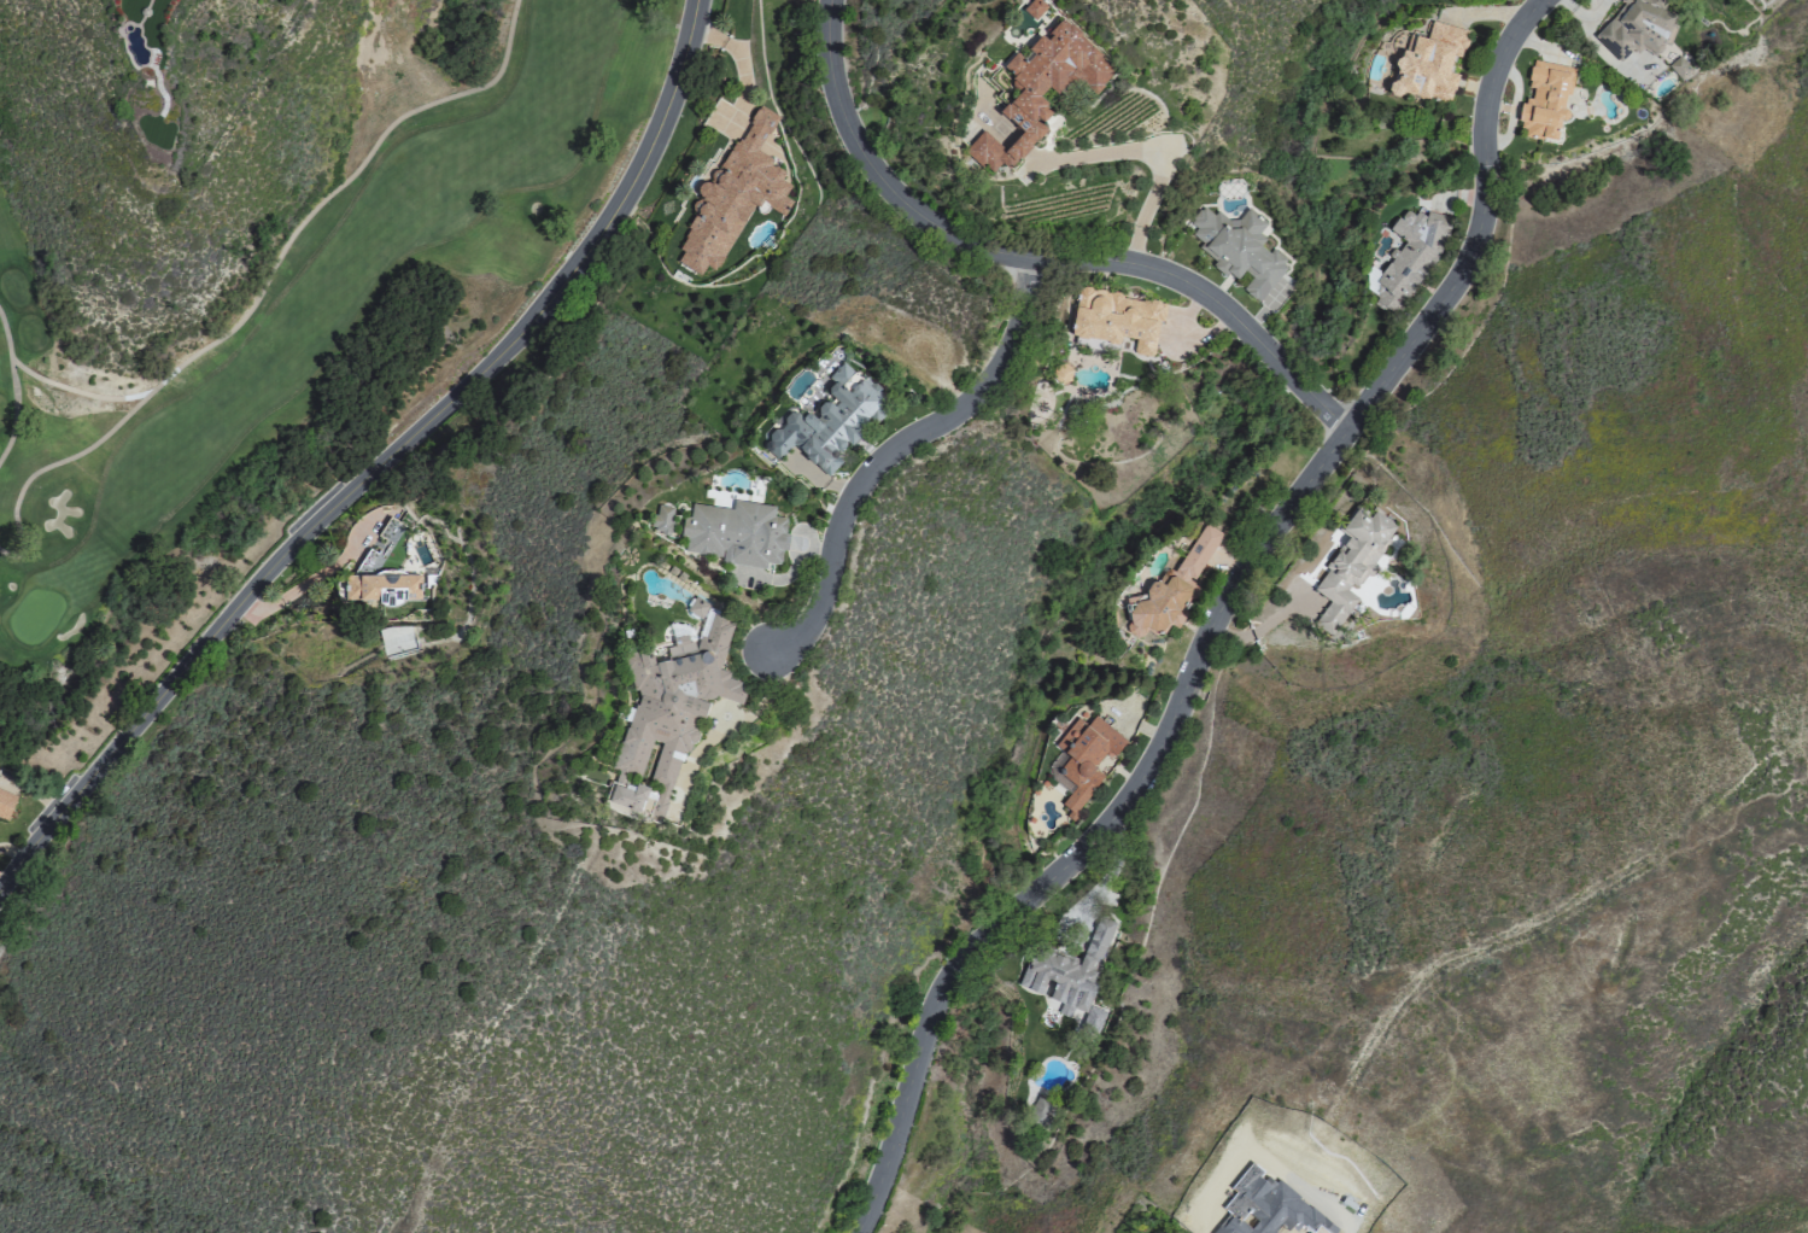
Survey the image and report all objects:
building: (1034, 8)
building: (1636, 27)
building: (1427, 62)
building: (1679, 68)
building: (1040, 89)
building: (1544, 99)
road: (1158, 154)
building: (732, 195)
building: (1239, 249)
building: (1408, 257)
road: (1037, 258)
road: (275, 259)
park: (263, 293)
building: (1114, 317)
road: (12, 405)
building: (829, 420)
road: (897, 454)
road: (51, 462)
road: (381, 463)
building: (662, 520)
building: (738, 533)
building: (1350, 565)
road: (304, 579)
building: (381, 588)
building: (1170, 589)
building: (696, 607)
road: (1212, 621)
building: (667, 718)
road: (726, 727)
building: (1081, 758)
building: (5, 804)
building: (1064, 984)

